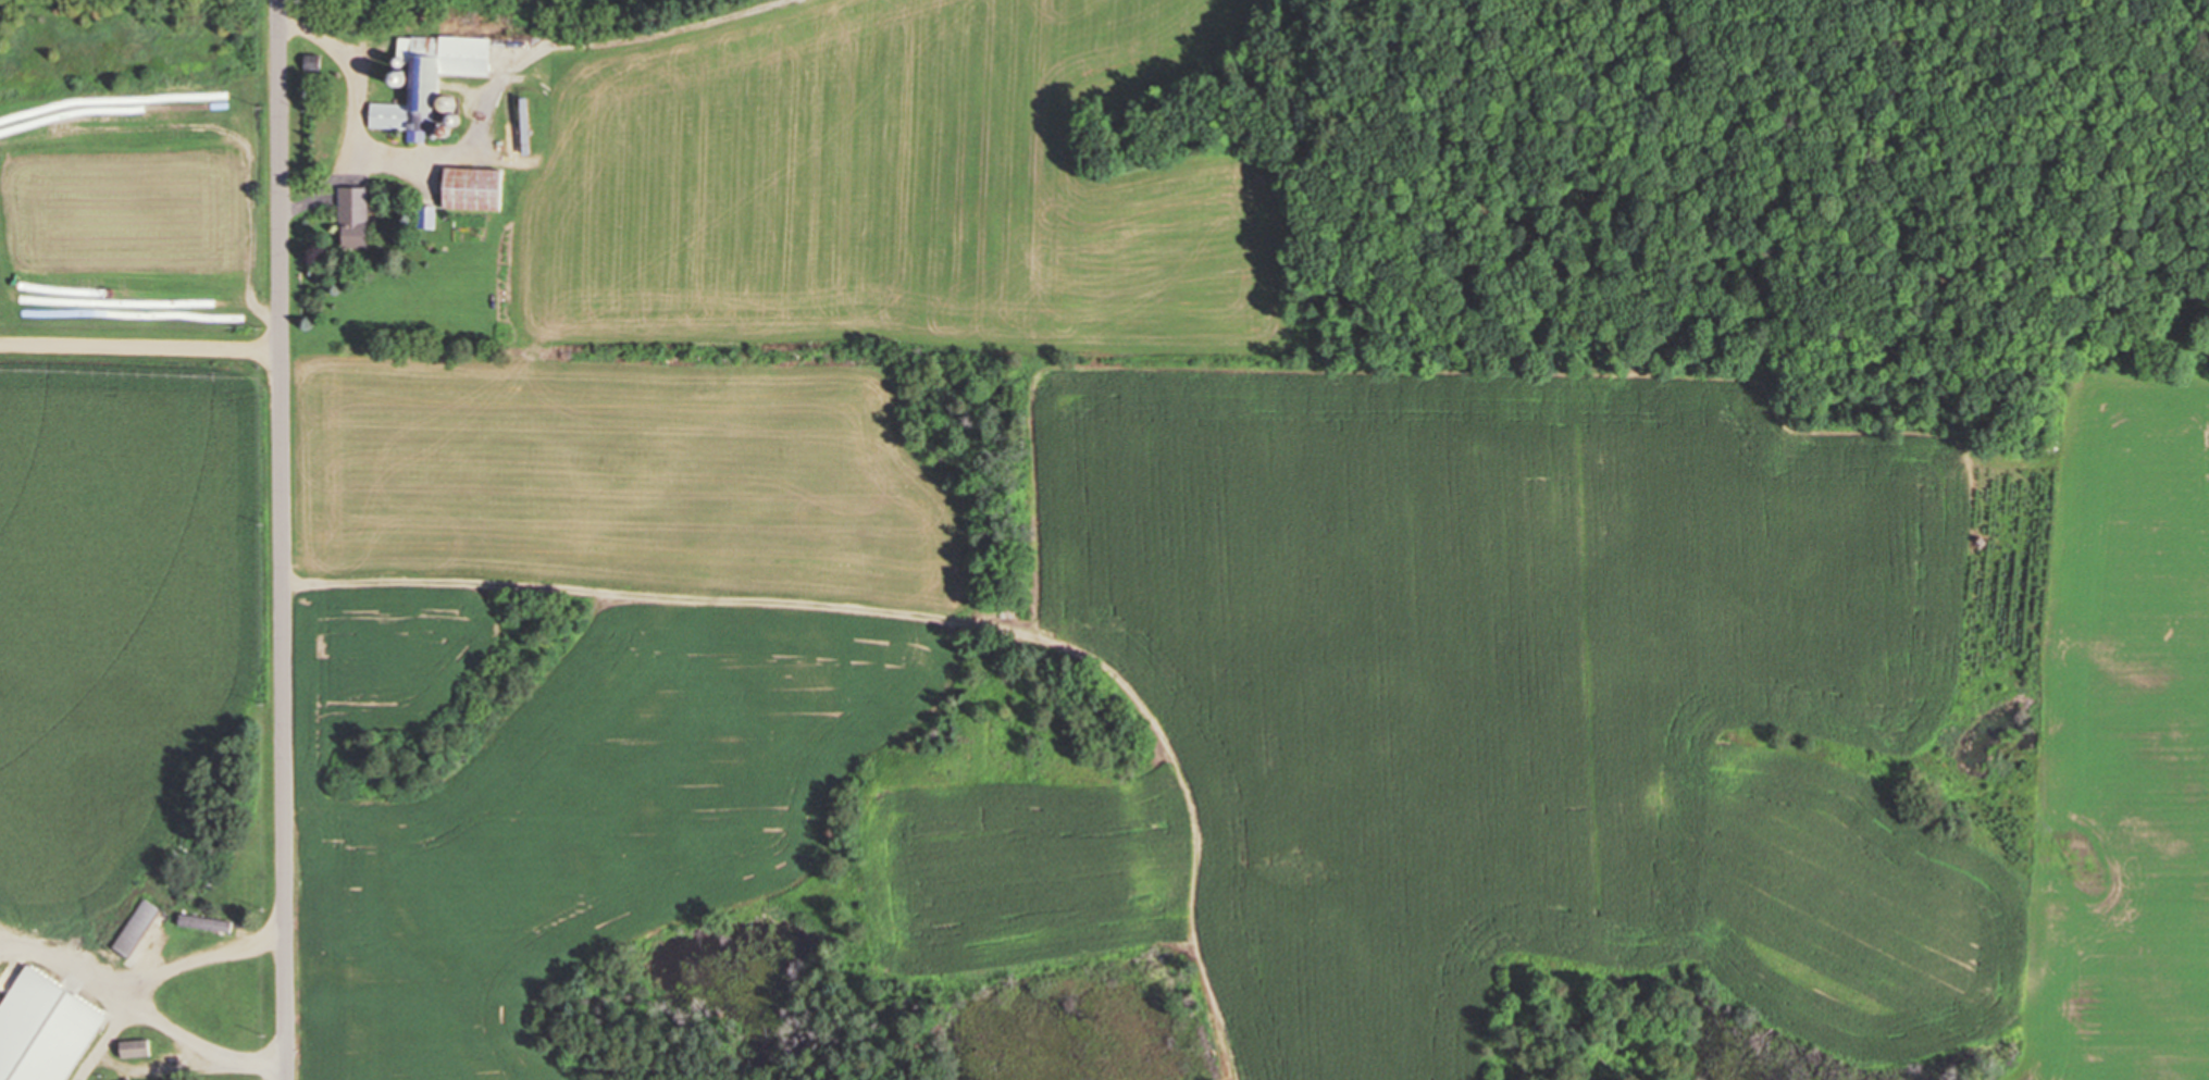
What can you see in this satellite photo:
building: (429, 79)
building: (471, 189)
building: (353, 218)
building: (425, 218)
road: (140, 348)
road: (283, 539)
building: (204, 923)
building: (134, 929)
road: (149, 997)
building: (76, 1001)
road: (109, 1035)
building: (131, 1048)
building: (46, 1068)

